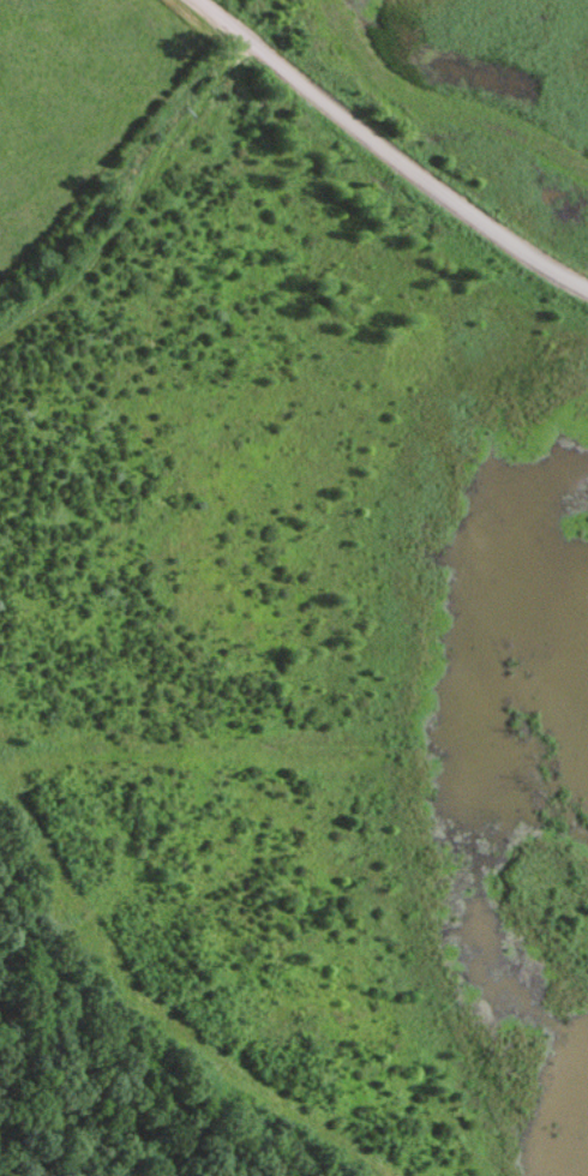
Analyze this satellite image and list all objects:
road: (385, 154)

